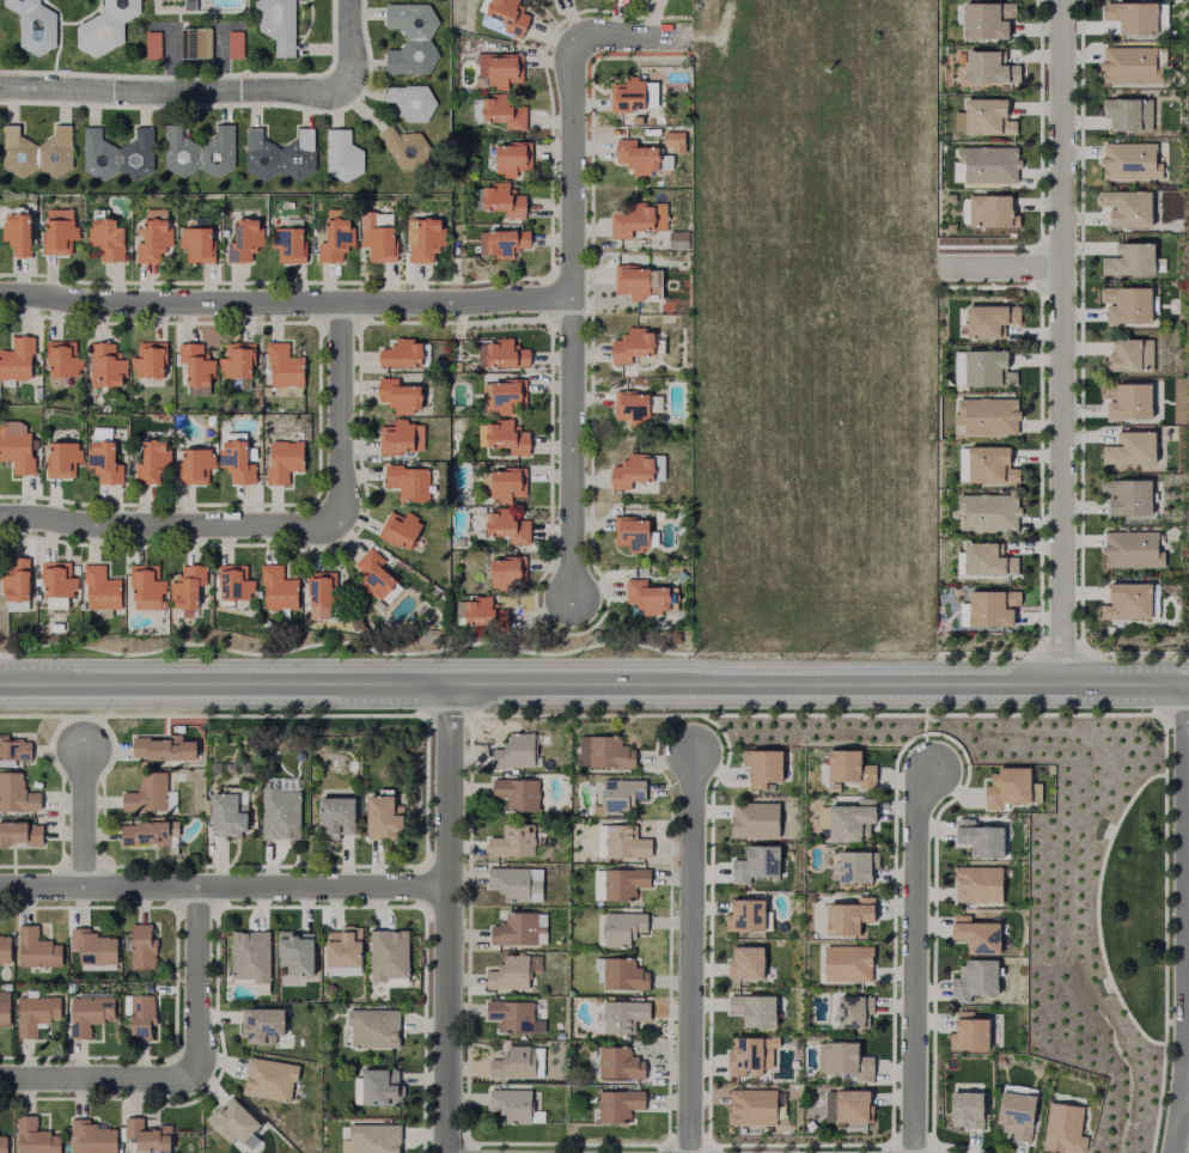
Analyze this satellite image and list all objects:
building: (539, 0)
building: (187, 5)
building: (508, 16)
building: (1133, 17)
building: (988, 19)
building: (275, 24)
building: (30, 25)
building: (102, 26)
building: (409, 37)
building: (191, 43)
building: (148, 44)
building: (232, 44)
building: (1159, 59)
building: (1129, 66)
building: (990, 68)
building: (498, 69)
building: (675, 86)
road: (219, 93)
building: (626, 96)
building: (409, 99)
building: (504, 112)
building: (1129, 115)
building: (988, 118)
building: (635, 120)
building: (648, 120)
building: (401, 147)
building: (196, 151)
building: (35, 152)
building: (115, 153)
building: (278, 153)
building: (341, 154)
building: (635, 157)
building: (1121, 157)
building: (512, 159)
building: (989, 164)
road: (1041, 172)
building: (502, 201)
building: (1128, 208)
building: (93, 213)
building: (992, 213)
building: (638, 219)
building: (16, 236)
building: (57, 237)
building: (105, 239)
building: (376, 239)
building: (244, 240)
building: (334, 240)
building: (422, 240)
building: (677, 240)
building: (152, 242)
building: (502, 243)
building: (196, 245)
building: (287, 245)
building: (1130, 261)
road: (571, 268)
road: (1000, 268)
building: (630, 282)
road: (285, 304)
building: (1127, 305)
building: (990, 321)
road: (1061, 340)
building: (630, 347)
building: (400, 354)
building: (500, 355)
building: (1129, 356)
building: (16, 359)
building: (62, 361)
building: (439, 362)
building: (147, 364)
building: (195, 365)
building: (104, 366)
building: (282, 366)
building: (236, 367)
building: (453, 367)
building: (958, 368)
building: (988, 370)
building: (196, 391)
building: (397, 396)
building: (506, 396)
building: (1127, 401)
building: (630, 407)
building: (989, 415)
building: (507, 438)
building: (402, 439)
building: (1132, 451)
building: (16, 452)
building: (61, 459)
building: (236, 462)
building: (283, 462)
building: (103, 463)
building: (151, 463)
building: (962, 465)
building: (194, 466)
building: (992, 466)
building: (629, 471)
building: (407, 483)
building: (506, 484)
building: (1127, 498)
building: (989, 512)
road: (279, 524)
building: (507, 527)
building: (401, 531)
building: (630, 533)
building: (1132, 550)
building: (988, 561)
building: (506, 574)
building: (372, 575)
building: (16, 581)
building: (56, 581)
building: (234, 585)
building: (187, 588)
building: (276, 588)
building: (99, 590)
building: (146, 590)
building: (648, 597)
building: (318, 599)
building: (1128, 603)
building: (55, 604)
building: (16, 606)
building: (992, 609)
building: (483, 612)
building: (353, 624)
building: (54, 628)
road: (594, 681)
road: (1176, 716)
building: (167, 748)
building: (14, 751)
building: (519, 751)
building: (609, 751)
building: (242, 768)
building: (763, 768)
building: (213, 769)
building: (849, 769)
building: (1007, 788)
building: (151, 792)
building: (522, 793)
building: (18, 794)
building: (624, 798)
building: (279, 813)
road: (84, 817)
building: (224, 817)
building: (334, 818)
building: (823, 818)
building: (379, 820)
building: (755, 820)
building: (852, 820)
building: (147, 834)
building: (22, 836)
building: (980, 840)
building: (516, 841)
building: (629, 842)
building: (756, 865)
building: (856, 867)
building: (520, 883)
building: (629, 884)
building: (978, 884)
road: (321, 889)
road: (97, 890)
road: (1096, 909)
park: (1134, 909)
road: (445, 916)
building: (745, 917)
building: (849, 917)
road: (1187, 917)
building: (628, 928)
building: (518, 931)
road: (1163, 934)
building: (978, 938)
building: (145, 946)
building: (96, 947)
building: (6, 950)
building: (37, 952)
road: (690, 953)
road: (913, 959)
building: (343, 962)
building: (385, 962)
building: (249, 964)
building: (746, 964)
building: (848, 964)
building: (295, 966)
building: (514, 972)
building: (624, 974)
building: (975, 981)
road: (196, 983)
building: (755, 1011)
building: (854, 1012)
building: (6, 1013)
building: (38, 1013)
building: (92, 1014)
building: (144, 1015)
building: (516, 1015)
building: (626, 1017)
building: (260, 1032)
building: (969, 1033)
building: (372, 1035)
building: (557, 1036)
building: (746, 1057)
building: (848, 1062)
building: (519, 1063)
building: (618, 1063)
road: (98, 1078)
building: (268, 1084)
road: (1185, 1092)
building: (376, 1096)
building: (518, 1105)
building: (621, 1106)
building: (752, 1108)
building: (853, 1108)
building: (967, 1111)
building: (1017, 1116)
building: (1063, 1129)
building: (231, 1131)
building: (151, 1135)
building: (37, 1137)
building: (94, 1137)
building: (344, 1140)
building: (373, 1142)
building: (4, 1143)

